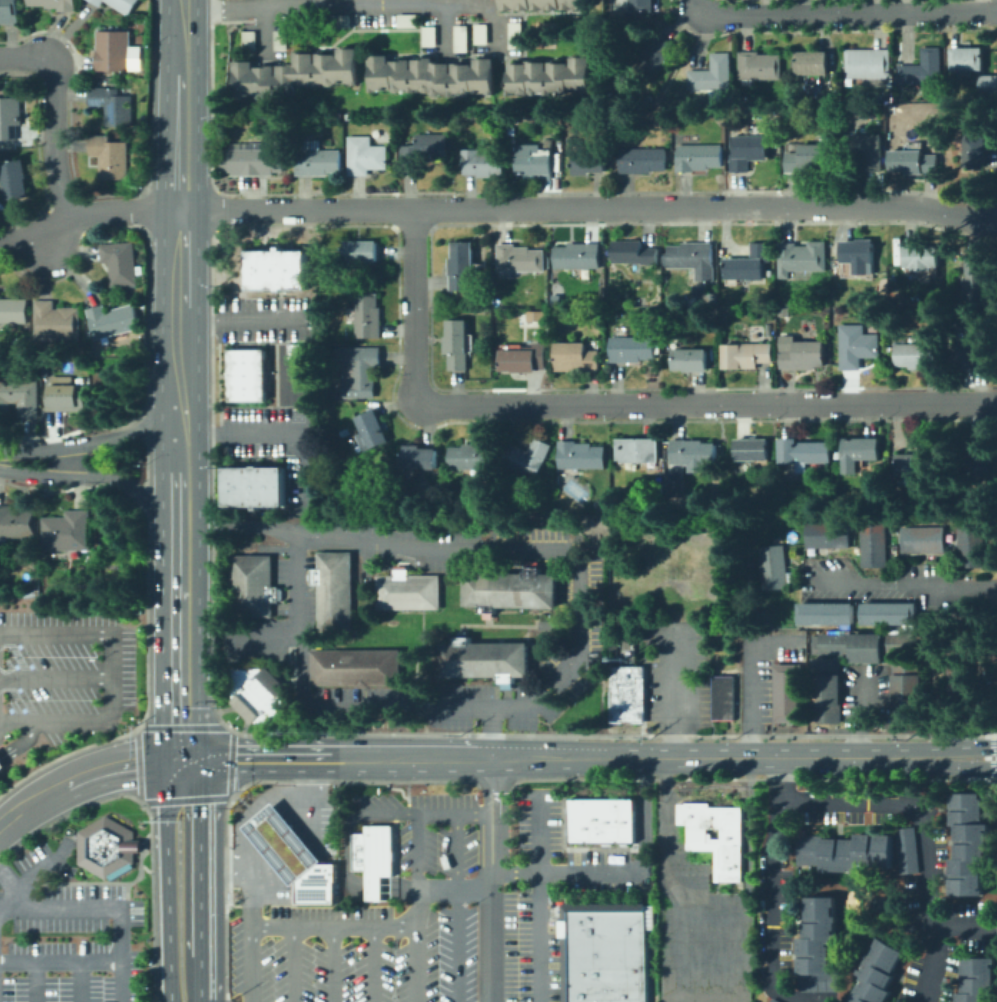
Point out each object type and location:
building: (55, 4)
building: (118, 4)
building: (542, 4)
road: (358, 5)
building: (643, 6)
building: (9, 11)
road: (843, 14)
road: (183, 15)
building: (341, 19)
building: (407, 19)
road: (445, 29)
road: (261, 31)
building: (480, 33)
building: (515, 34)
building: (545, 34)
building: (430, 35)
building: (461, 37)
building: (279, 39)
building: (248, 40)
building: (115, 52)
building: (655, 56)
building: (967, 60)
building: (813, 63)
building: (868, 64)
building: (760, 67)
building: (923, 69)
building: (295, 72)
building: (713, 74)
building: (432, 75)
building: (548, 75)
building: (989, 84)
building: (114, 105)
building: (844, 108)
road: (55, 111)
building: (668, 114)
building: (10, 117)
road: (182, 120)
building: (974, 148)
building: (749, 151)
building: (867, 151)
building: (423, 152)
building: (6, 155)
building: (365, 156)
building: (112, 157)
building: (699, 157)
building: (642, 158)
building: (809, 159)
building: (252, 161)
building: (319, 162)
building: (535, 162)
building: (590, 162)
building: (914, 162)
building: (483, 163)
building: (15, 179)
road: (495, 208)
road: (43, 242)
building: (361, 253)
building: (634, 253)
building: (577, 256)
building: (859, 256)
building: (802, 258)
building: (693, 259)
building: (923, 259)
building: (519, 260)
building: (122, 263)
building: (748, 265)
building: (462, 267)
building: (278, 269)
building: (980, 282)
building: (702, 291)
road: (180, 300)
building: (143, 303)
building: (14, 311)
building: (784, 311)
building: (535, 314)
building: (368, 316)
road: (241, 318)
building: (112, 321)
building: (55, 322)
building: (879, 322)
building: (769, 330)
building: (457, 345)
building: (977, 345)
building: (857, 346)
building: (631, 349)
building: (299, 351)
building: (747, 355)
building: (803, 355)
building: (919, 356)
building: (575, 357)
building: (524, 359)
building: (690, 359)
building: (360, 370)
building: (248, 375)
building: (19, 398)
building: (67, 398)
road: (612, 404)
building: (371, 431)
road: (276, 432)
building: (345, 433)
road: (96, 439)
building: (339, 439)
building: (354, 445)
building: (638, 450)
building: (752, 450)
building: (806, 452)
building: (859, 452)
building: (694, 454)
building: (839, 455)
building: (472, 456)
building: (581, 456)
building: (419, 458)
building: (529, 458)
building: (980, 458)
building: (921, 460)
road: (179, 467)
road: (103, 478)
building: (671, 480)
building: (255, 487)
building: (659, 493)
building: (791, 509)
building: (560, 512)
building: (16, 523)
building: (826, 533)
building: (67, 534)
building: (920, 538)
building: (872, 544)
building: (970, 544)
road: (507, 549)
building: (771, 566)
road: (901, 586)
building: (254, 587)
building: (508, 589)
building: (333, 590)
building: (405, 591)
building: (45, 604)
building: (824, 612)
building: (888, 612)
road: (262, 635)
road: (179, 649)
road: (301, 659)
building: (481, 659)
building: (357, 668)
parking lot: (64, 673)
road: (750, 674)
road: (111, 677)
road: (55, 678)
road: (866, 679)
building: (958, 685)
building: (825, 688)
road: (674, 690)
building: (909, 691)
building: (789, 693)
building: (259, 694)
building: (628, 694)
building: (720, 696)
road: (463, 706)
road: (865, 717)
road: (20, 742)
road: (980, 748)
road: (256, 756)
road: (720, 756)
traffic signals: (180, 757)
road: (405, 758)
road: (121, 762)
building: (0, 765)
road: (979, 765)
road: (492, 775)
road: (41, 793)
road: (910, 808)
building: (594, 812)
road: (9, 815)
road: (388, 815)
road: (454, 815)
building: (626, 821)
road: (258, 824)
building: (593, 833)
road: (259, 843)
building: (281, 843)
gas station: (281, 843)
building: (715, 845)
building: (969, 845)
road: (294, 846)
building: (108, 847)
building: (909, 851)
road: (417, 852)
building: (847, 852)
road: (199, 854)
road: (348, 855)
building: (372, 857)
road: (298, 869)
road: (624, 873)
road: (34, 875)
road: (166, 878)
road: (670, 879)
road: (8, 880)
road: (774, 884)
building: (315, 885)
road: (371, 888)
road: (399, 888)
road: (454, 889)
road: (491, 896)
road: (540, 898)
road: (0, 908)
road: (106, 908)
road: (458, 908)
parking lot: (440, 909)
road: (707, 920)
building: (606, 925)
road: (334, 928)
parking lot: (67, 933)
road: (940, 940)
road: (417, 945)
building: (819, 946)
building: (606, 955)
road: (61, 961)
road: (252, 964)
road: (294, 965)
road: (331, 965)
road: (373, 965)
road: (707, 969)
building: (605, 970)
building: (879, 973)
road: (199, 979)
building: (977, 980)
road: (81, 981)
road: (36, 982)
building: (605, 985)
road: (165, 989)
road: (206, 991)
building: (604, 997)
building: (774, 1001)

